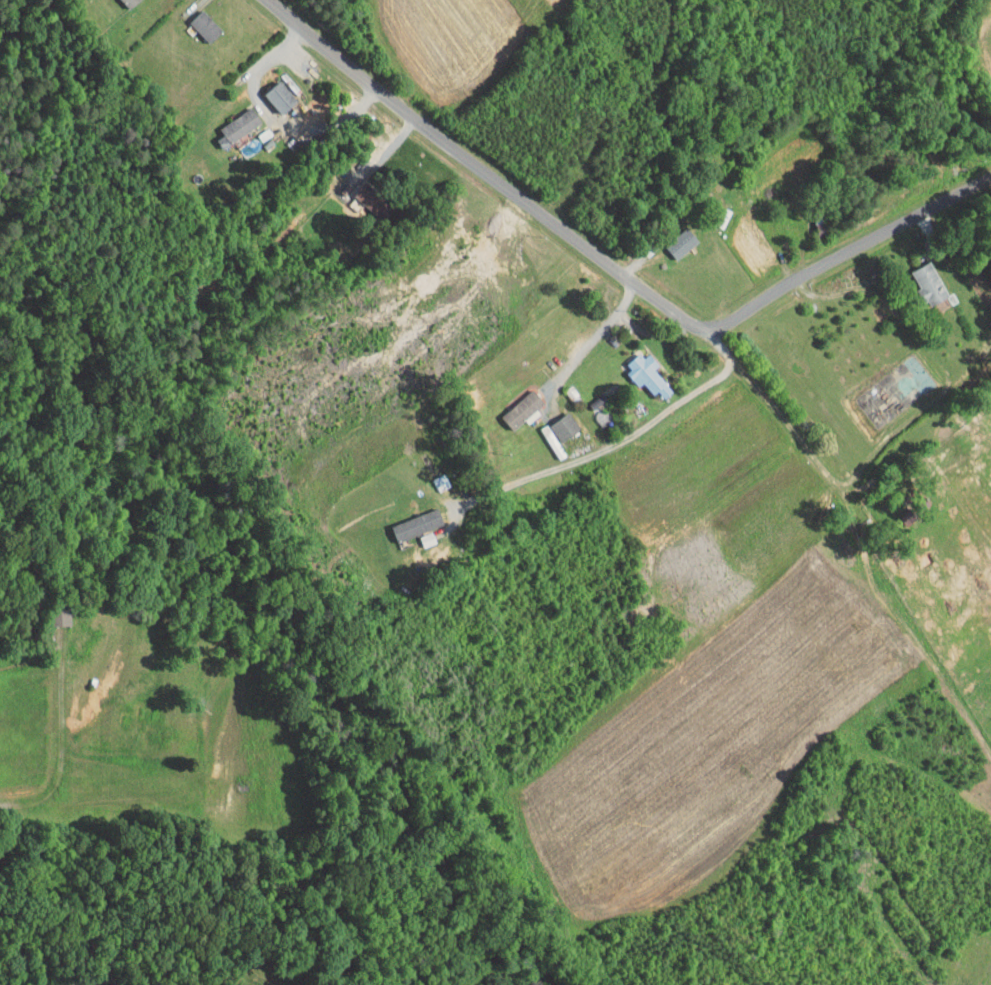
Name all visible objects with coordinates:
building: (119, 1)
building: (195, 20)
building: (270, 92)
road: (274, 117)
building: (228, 120)
road: (779, 147)
building: (360, 192)
road: (521, 199)
road: (887, 231)
building: (672, 238)
building: (921, 278)
building: (987, 320)
road: (651, 332)
road: (595, 335)
building: (637, 370)
building: (512, 403)
road: (619, 440)
building: (407, 518)
road: (60, 747)

